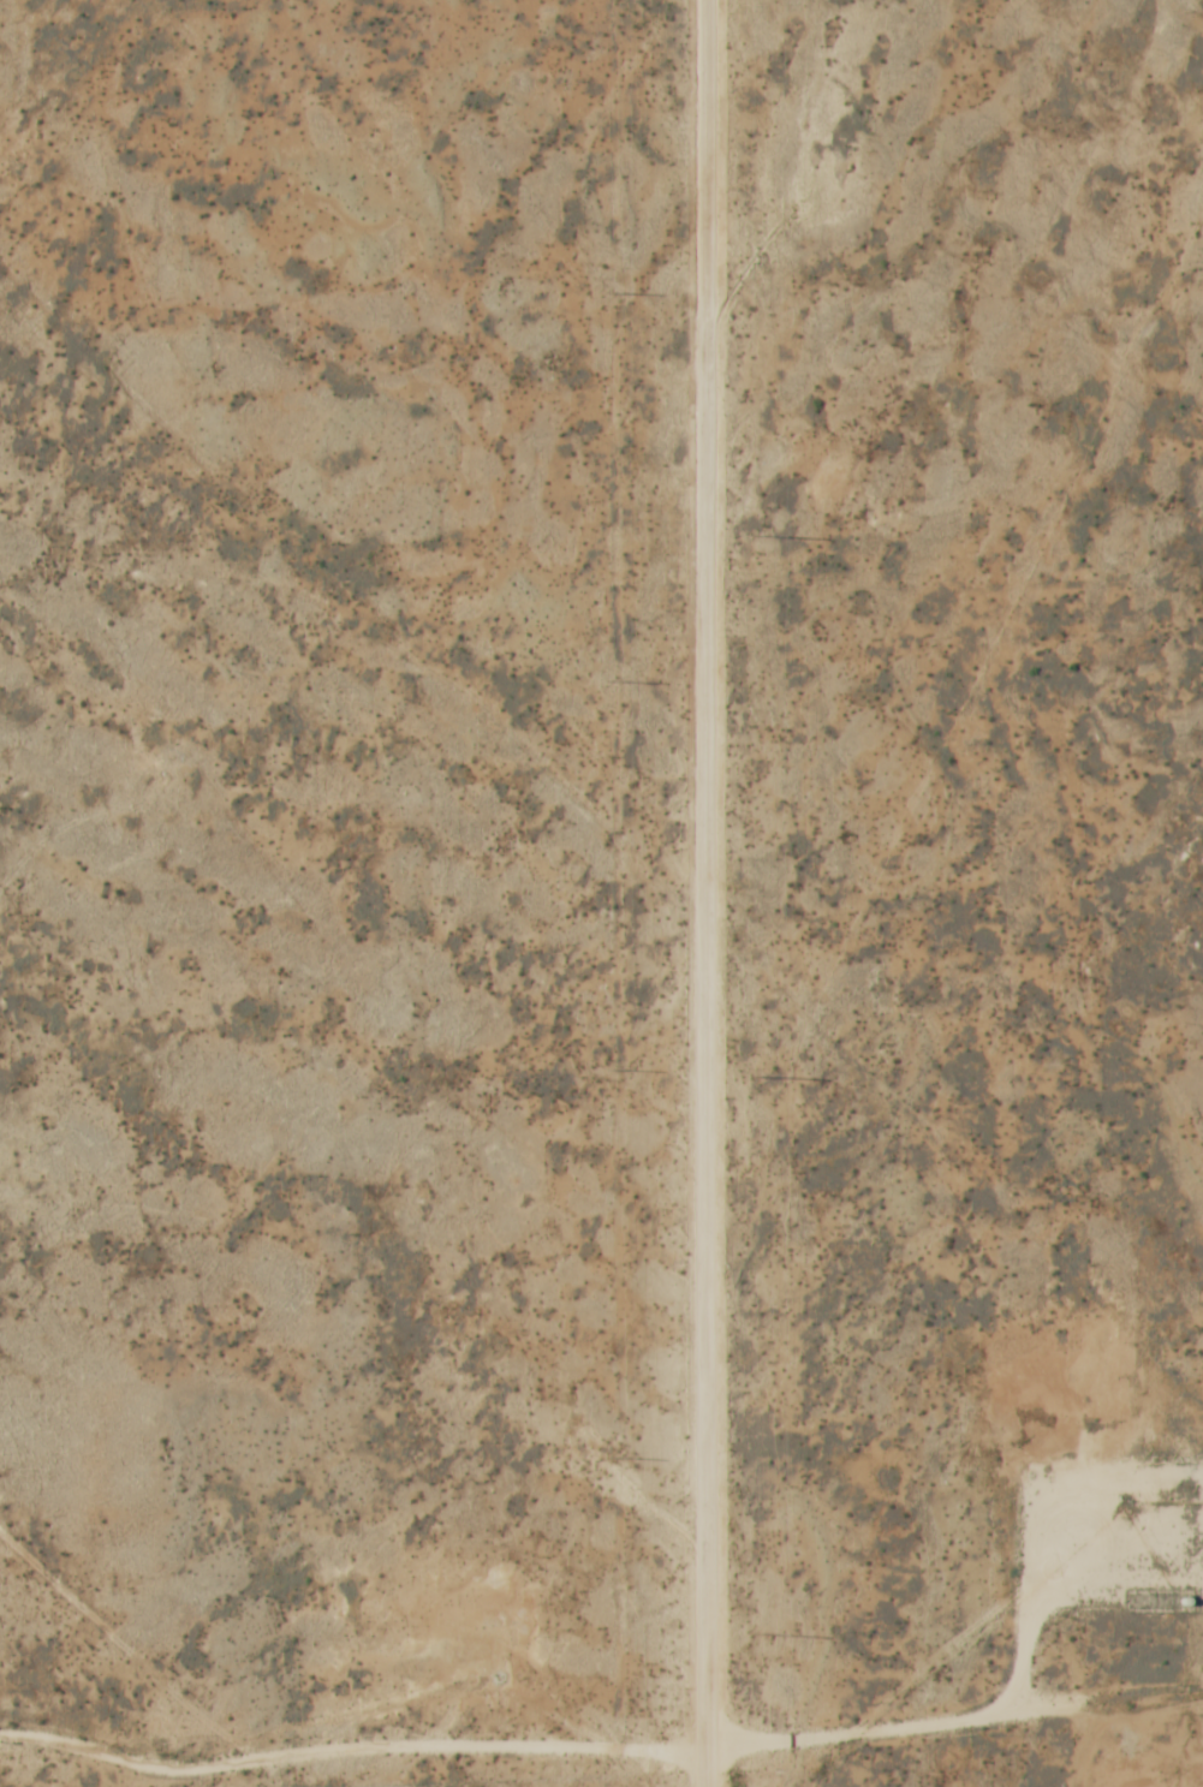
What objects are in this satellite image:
power tower: (609, 292)
power tower: (756, 536)
power tower: (612, 680)
road: (702, 893)
power tower: (614, 1067)
power tower: (760, 1074)
power tower: (617, 1455)
road: (1052, 1545)
power tower: (760, 1632)
road: (600, 1751)

